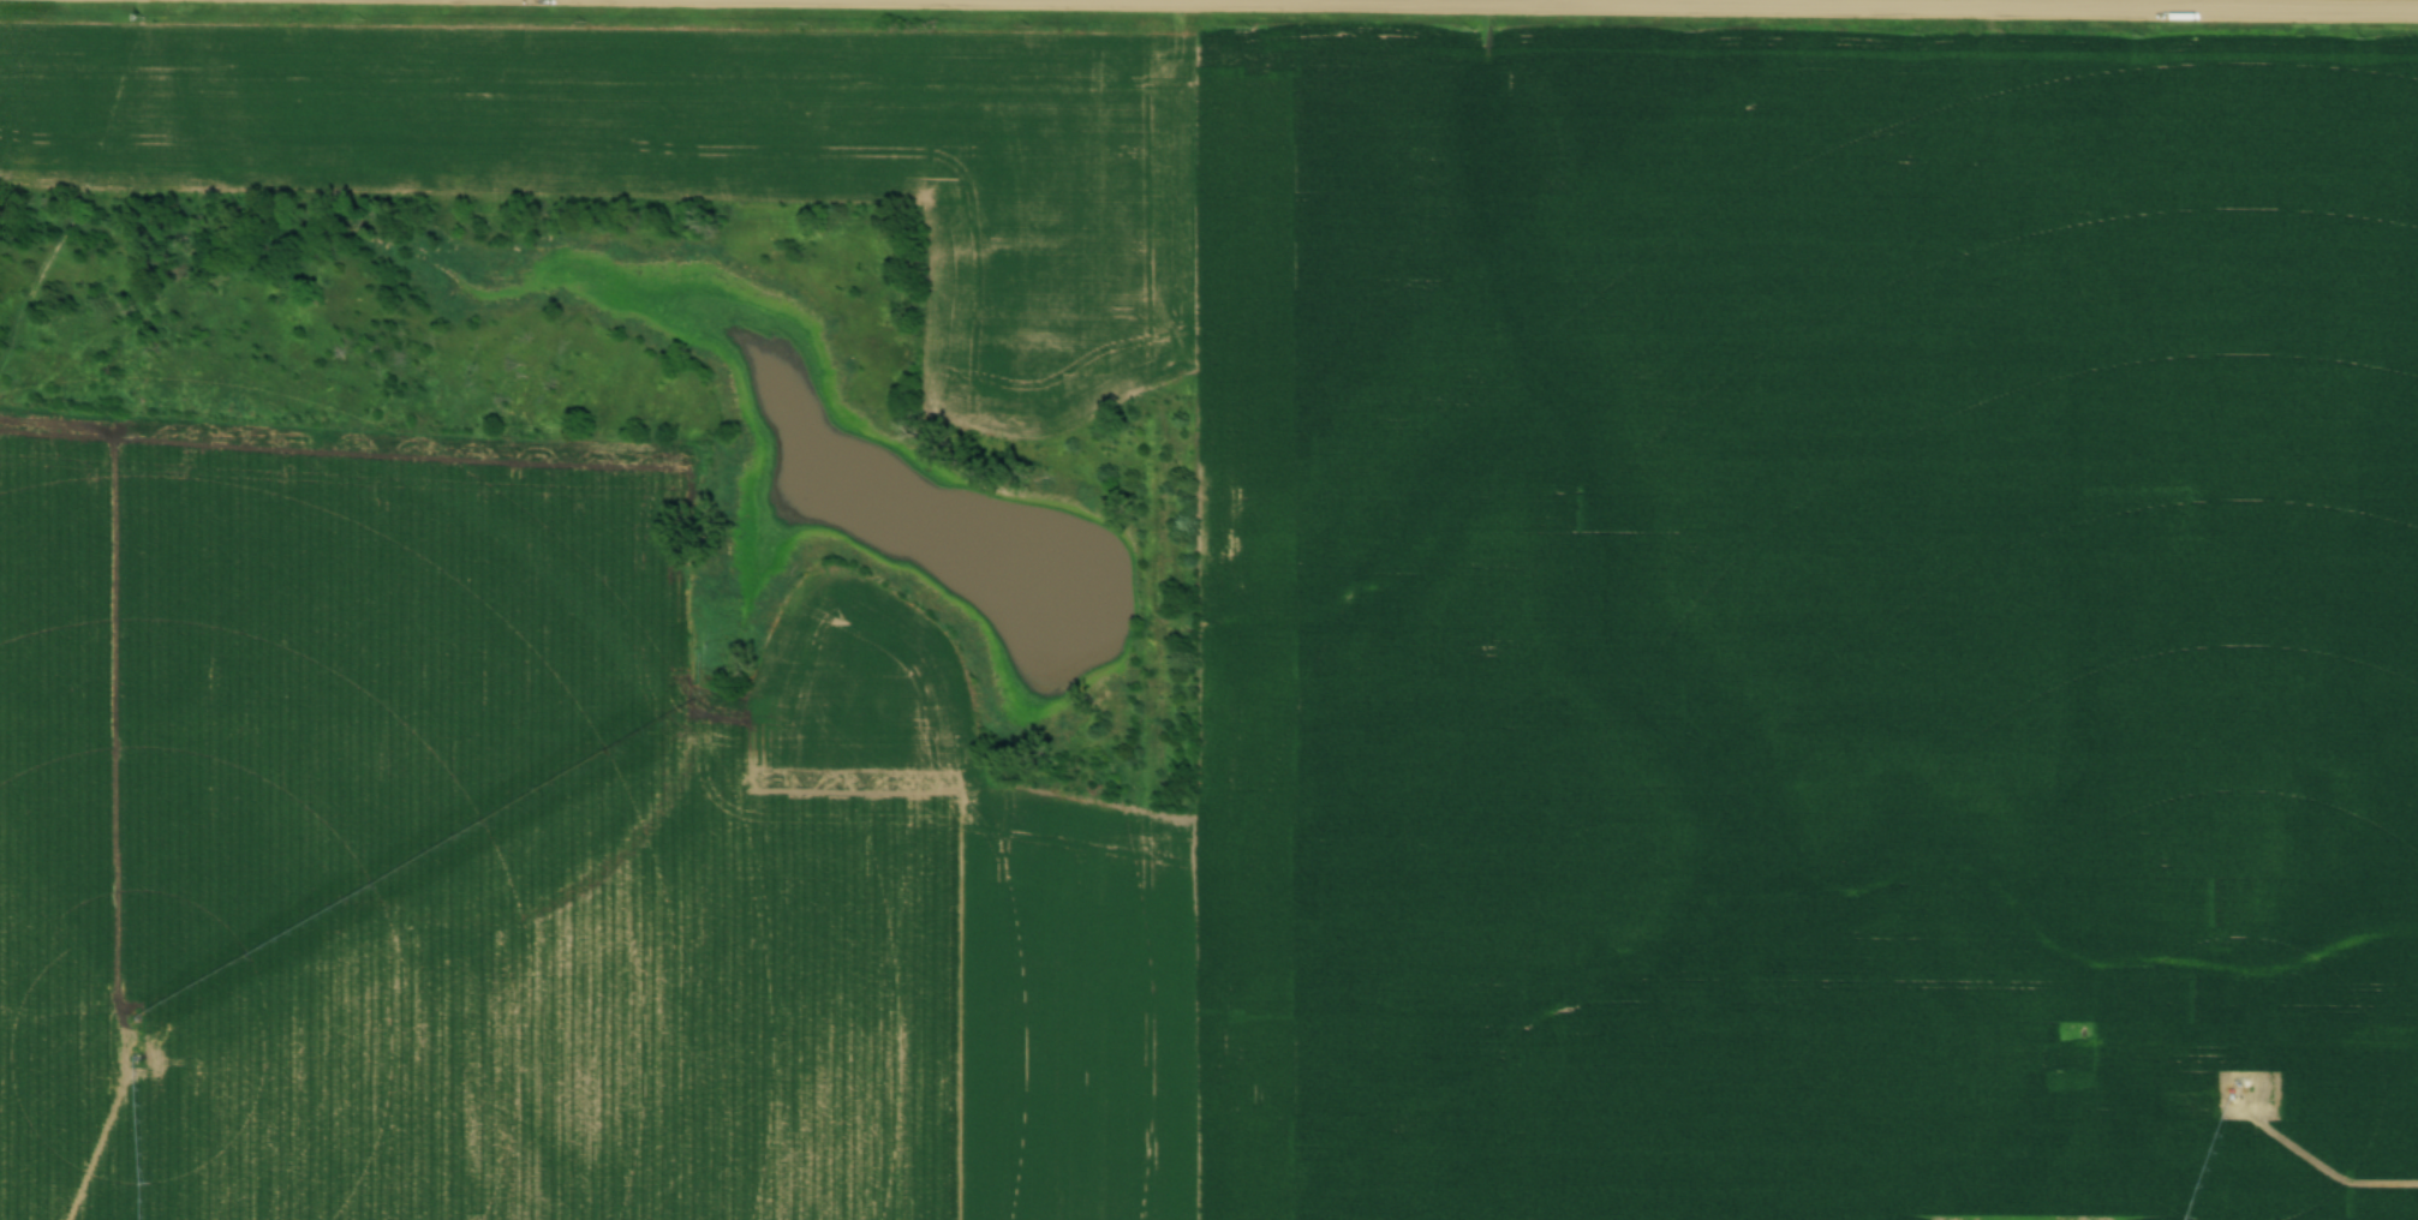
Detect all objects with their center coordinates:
road: (1897, 5)

